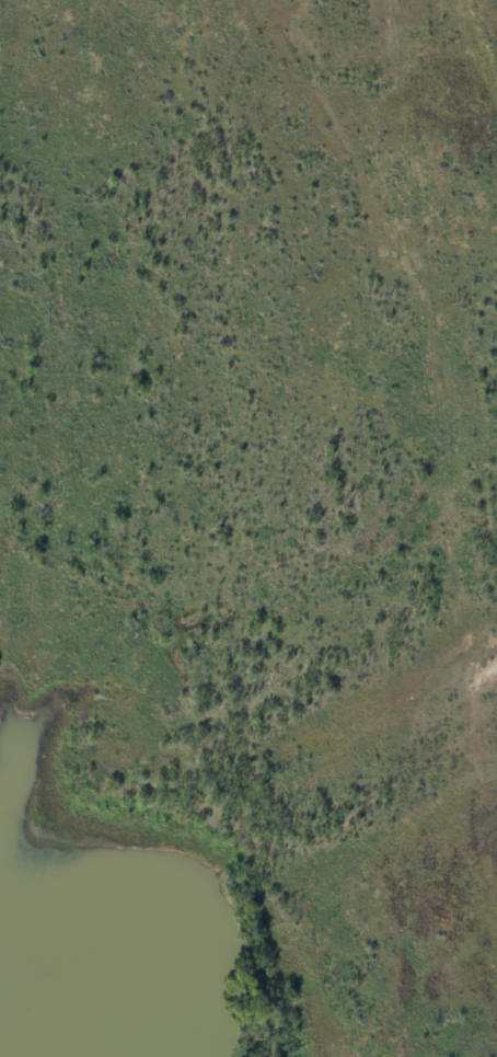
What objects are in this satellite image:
road: (460, 389)

